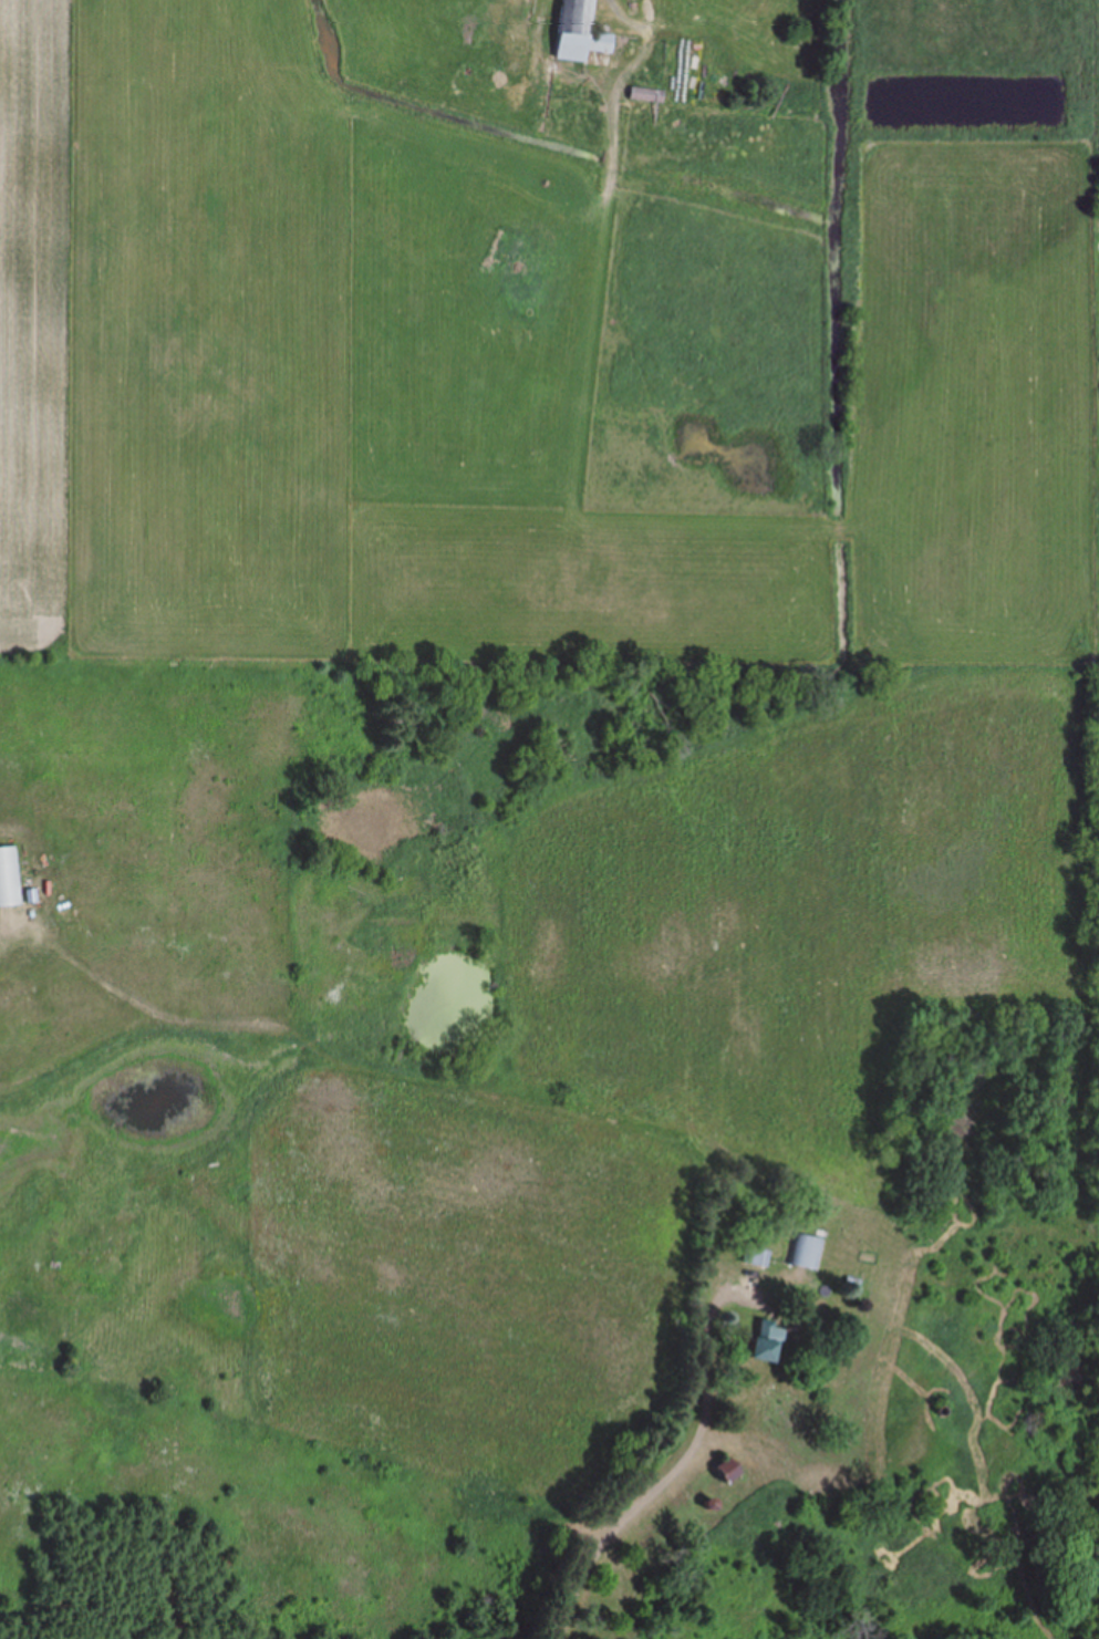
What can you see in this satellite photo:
building: (578, 33)
building: (10, 879)
building: (757, 1253)
building: (809, 1253)
building: (765, 1342)
building: (723, 1471)

